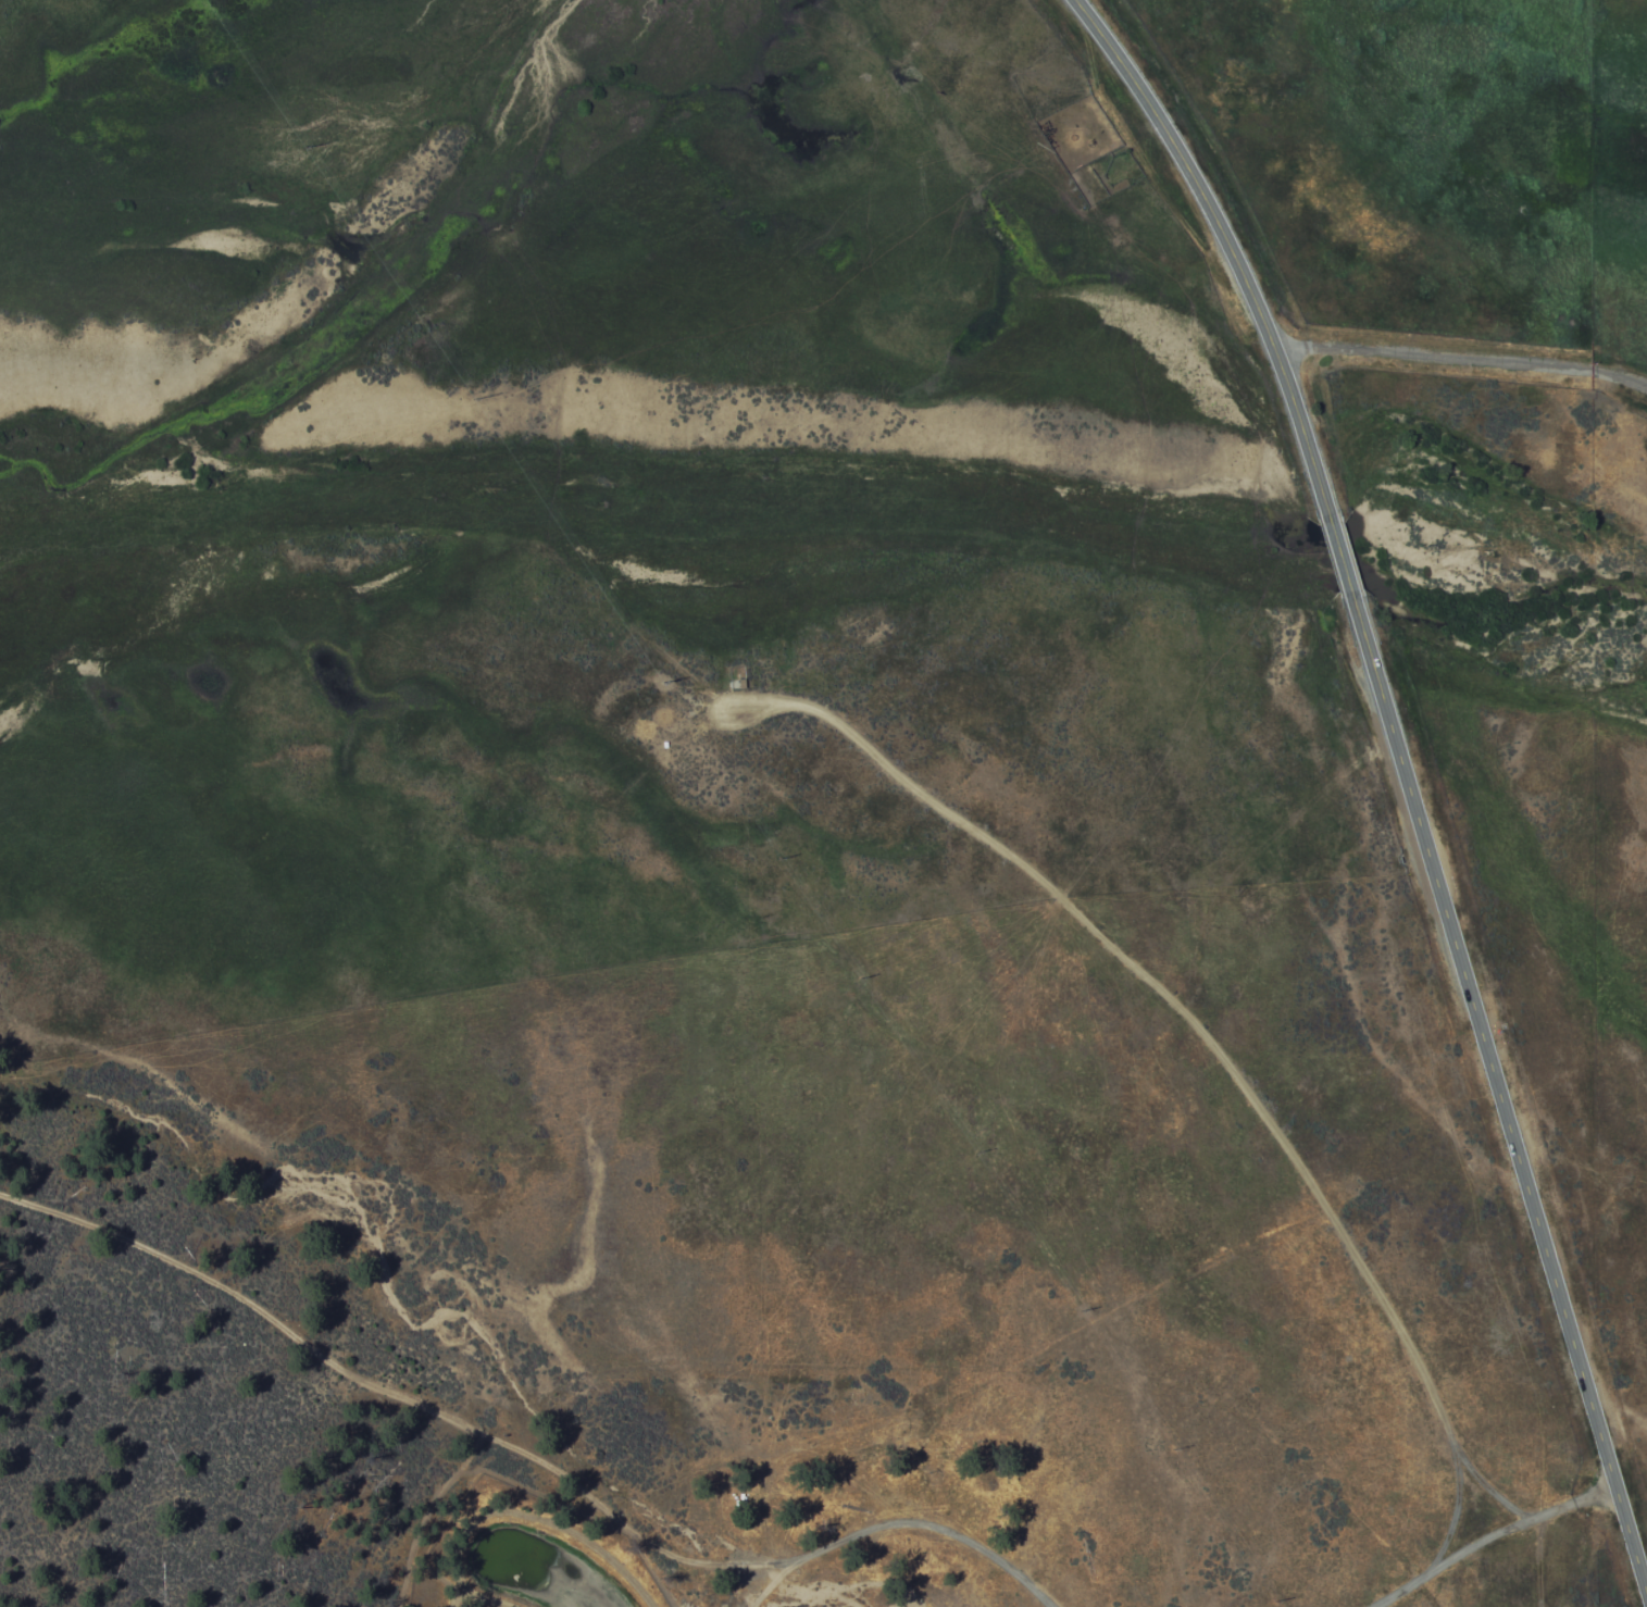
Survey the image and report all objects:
road: (1228, 245)
road: (1463, 365)
river: (831, 458)
road: (1340, 558)
river: (1567, 606)
road: (1499, 1095)
road: (527, 1450)
road: (1487, 1535)
wastewater plant: (542, 1562)

